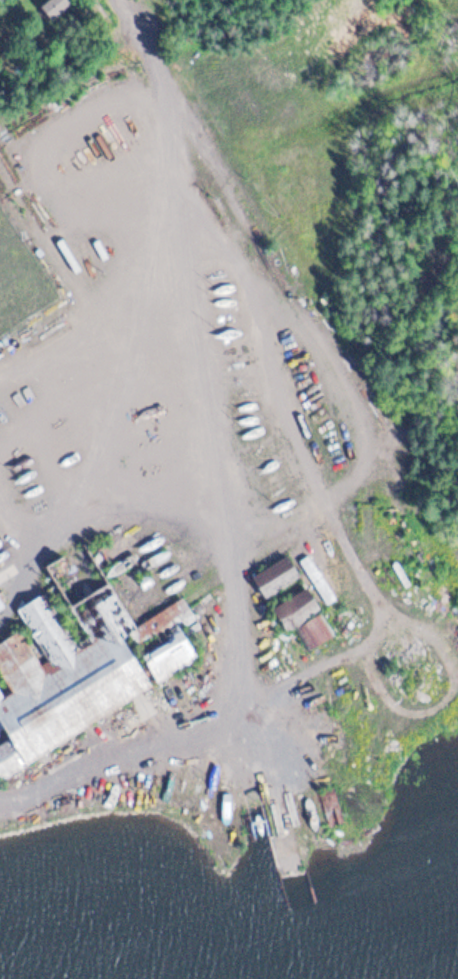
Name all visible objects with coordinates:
building: (55, 8)
building: (72, 254)
road: (365, 392)
building: (281, 576)
building: (2, 604)
building: (295, 606)
building: (1, 612)
building: (318, 630)
building: (80, 665)

